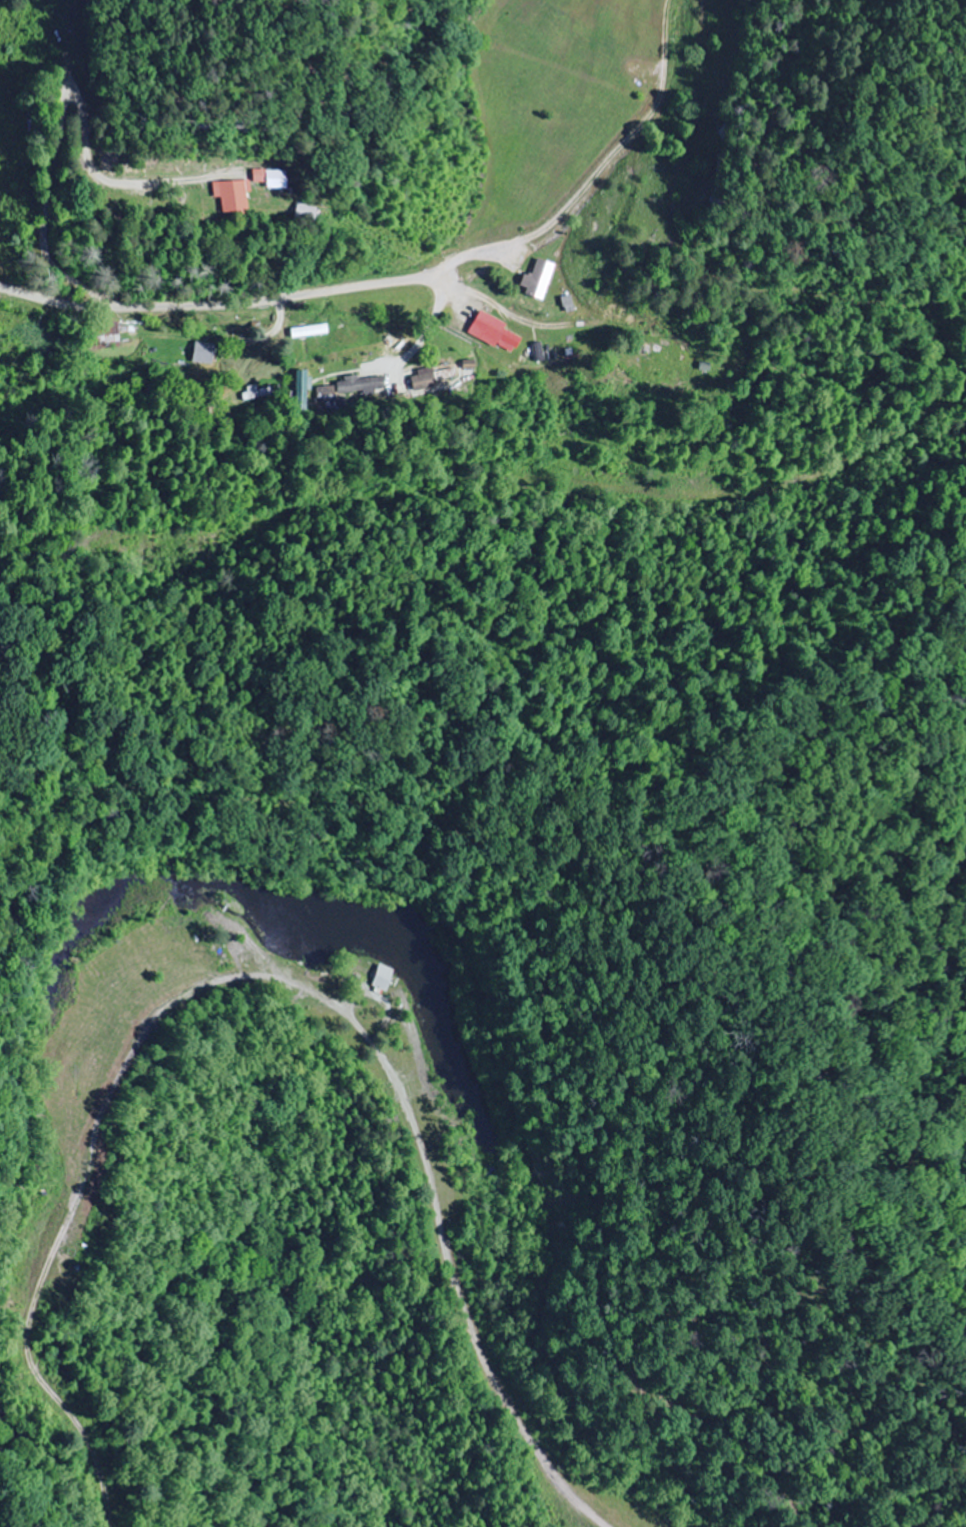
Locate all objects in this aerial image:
building: (228, 193)
building: (299, 210)
building: (537, 278)
road: (229, 299)
building: (496, 332)
building: (101, 335)
building: (204, 352)
building: (352, 387)
building: (257, 392)
building: (329, 395)
building: (382, 977)

